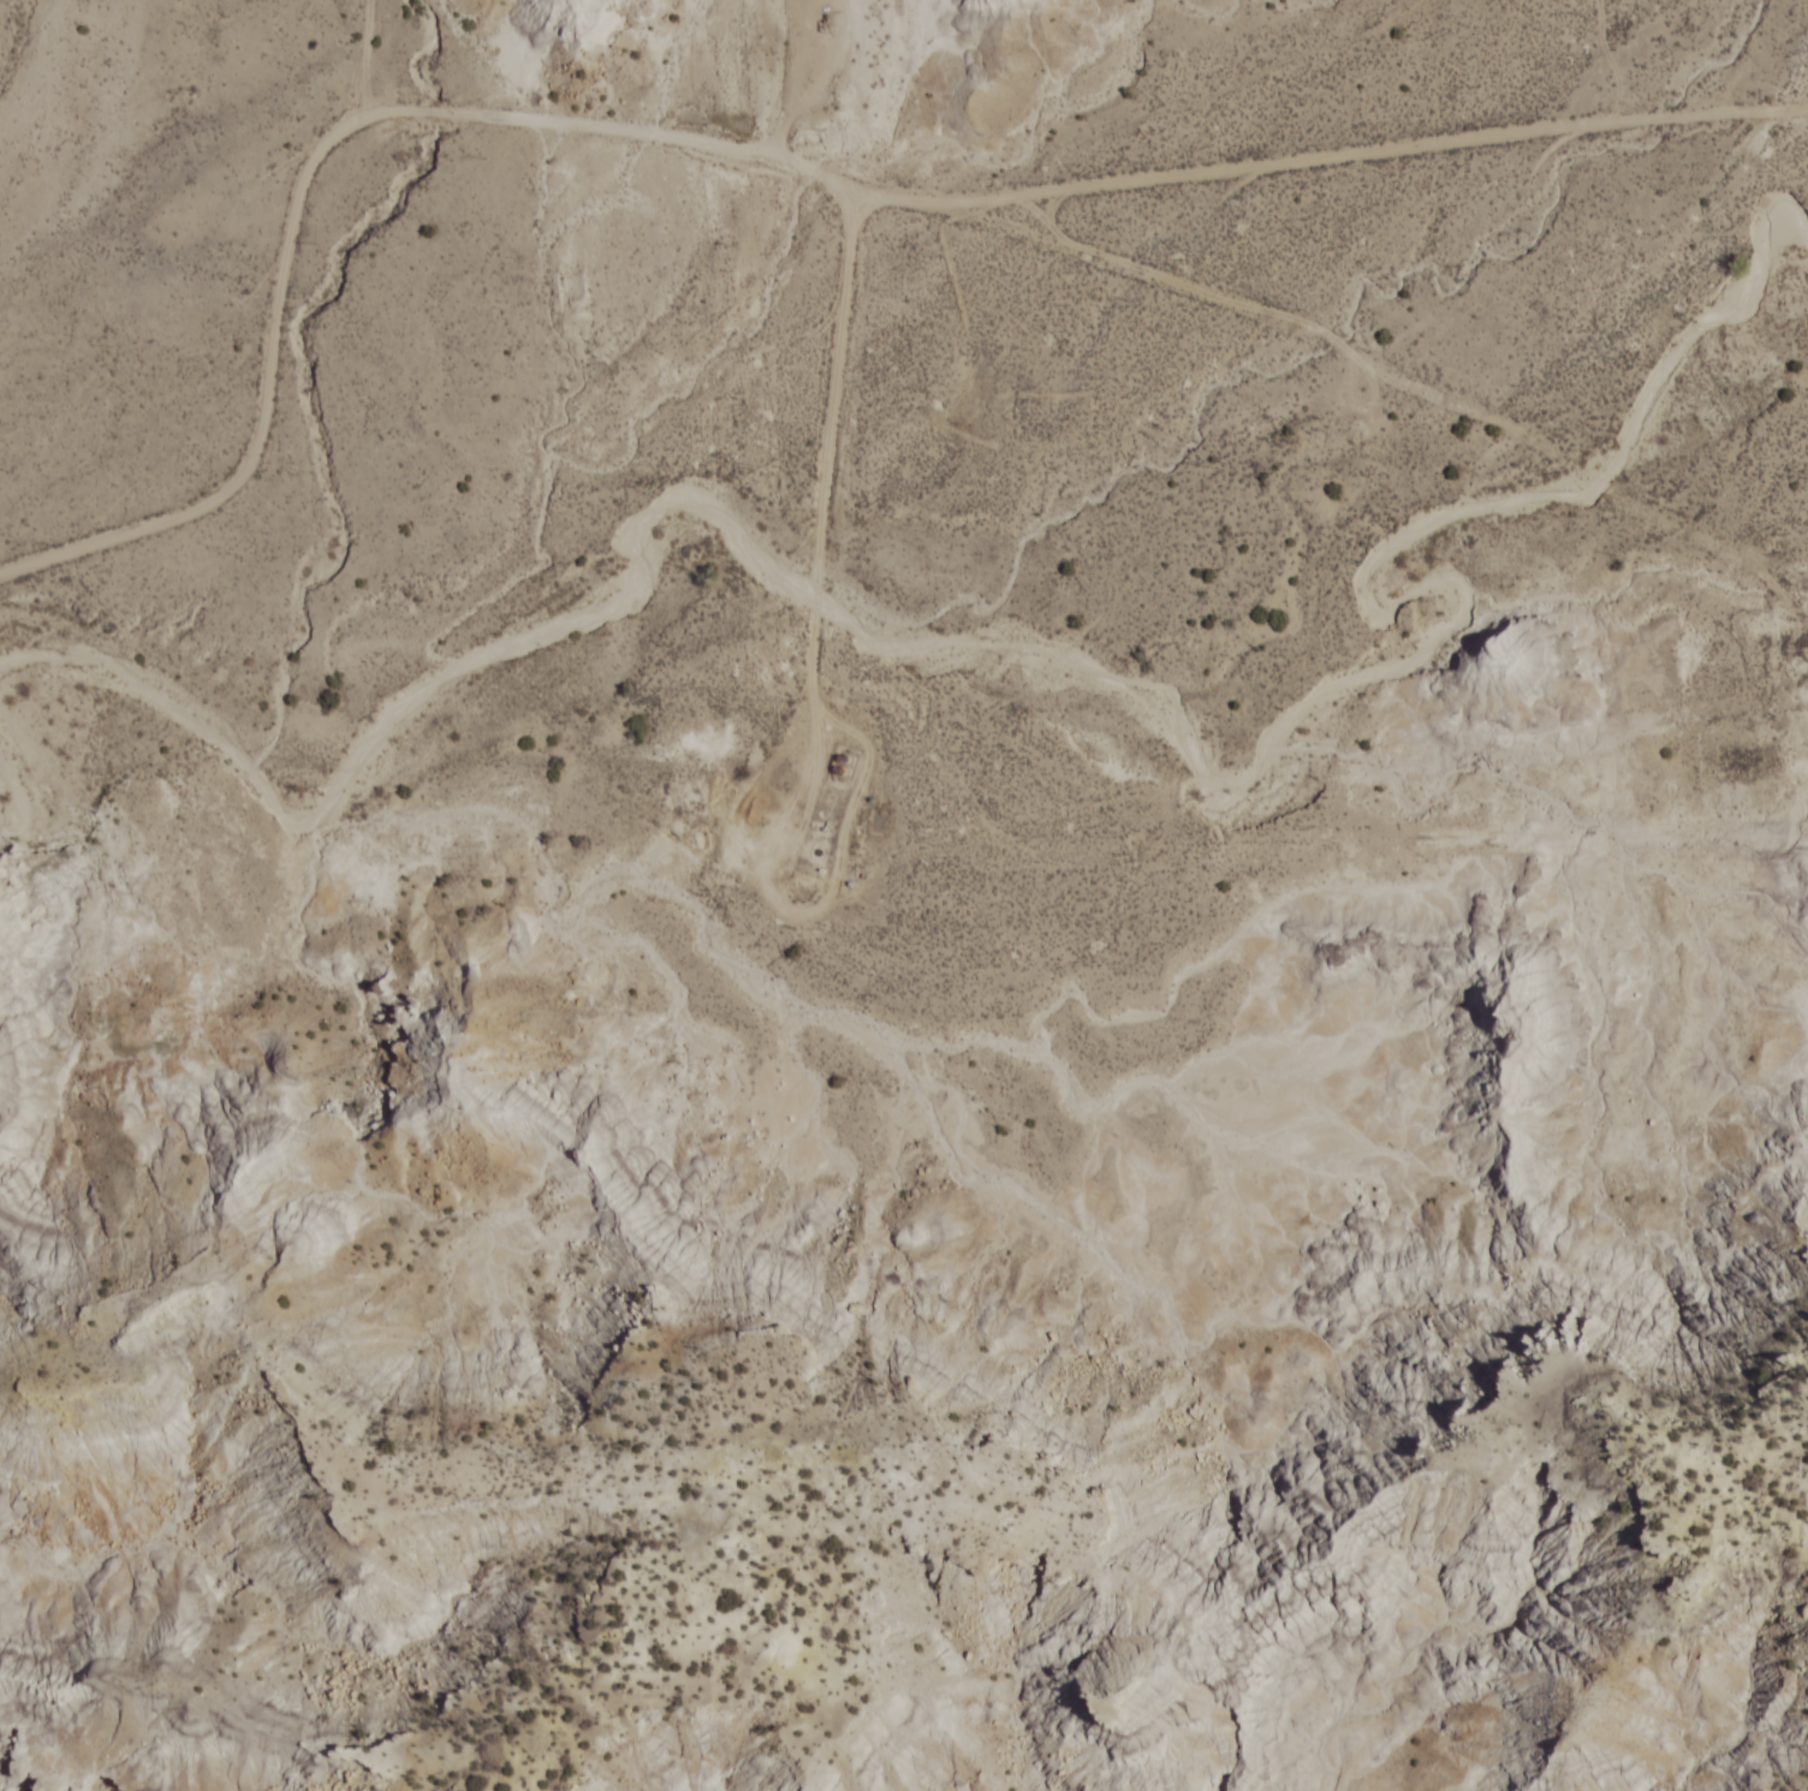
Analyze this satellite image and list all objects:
road: (707, 153)
river: (1001, 666)
river: (66, 757)

